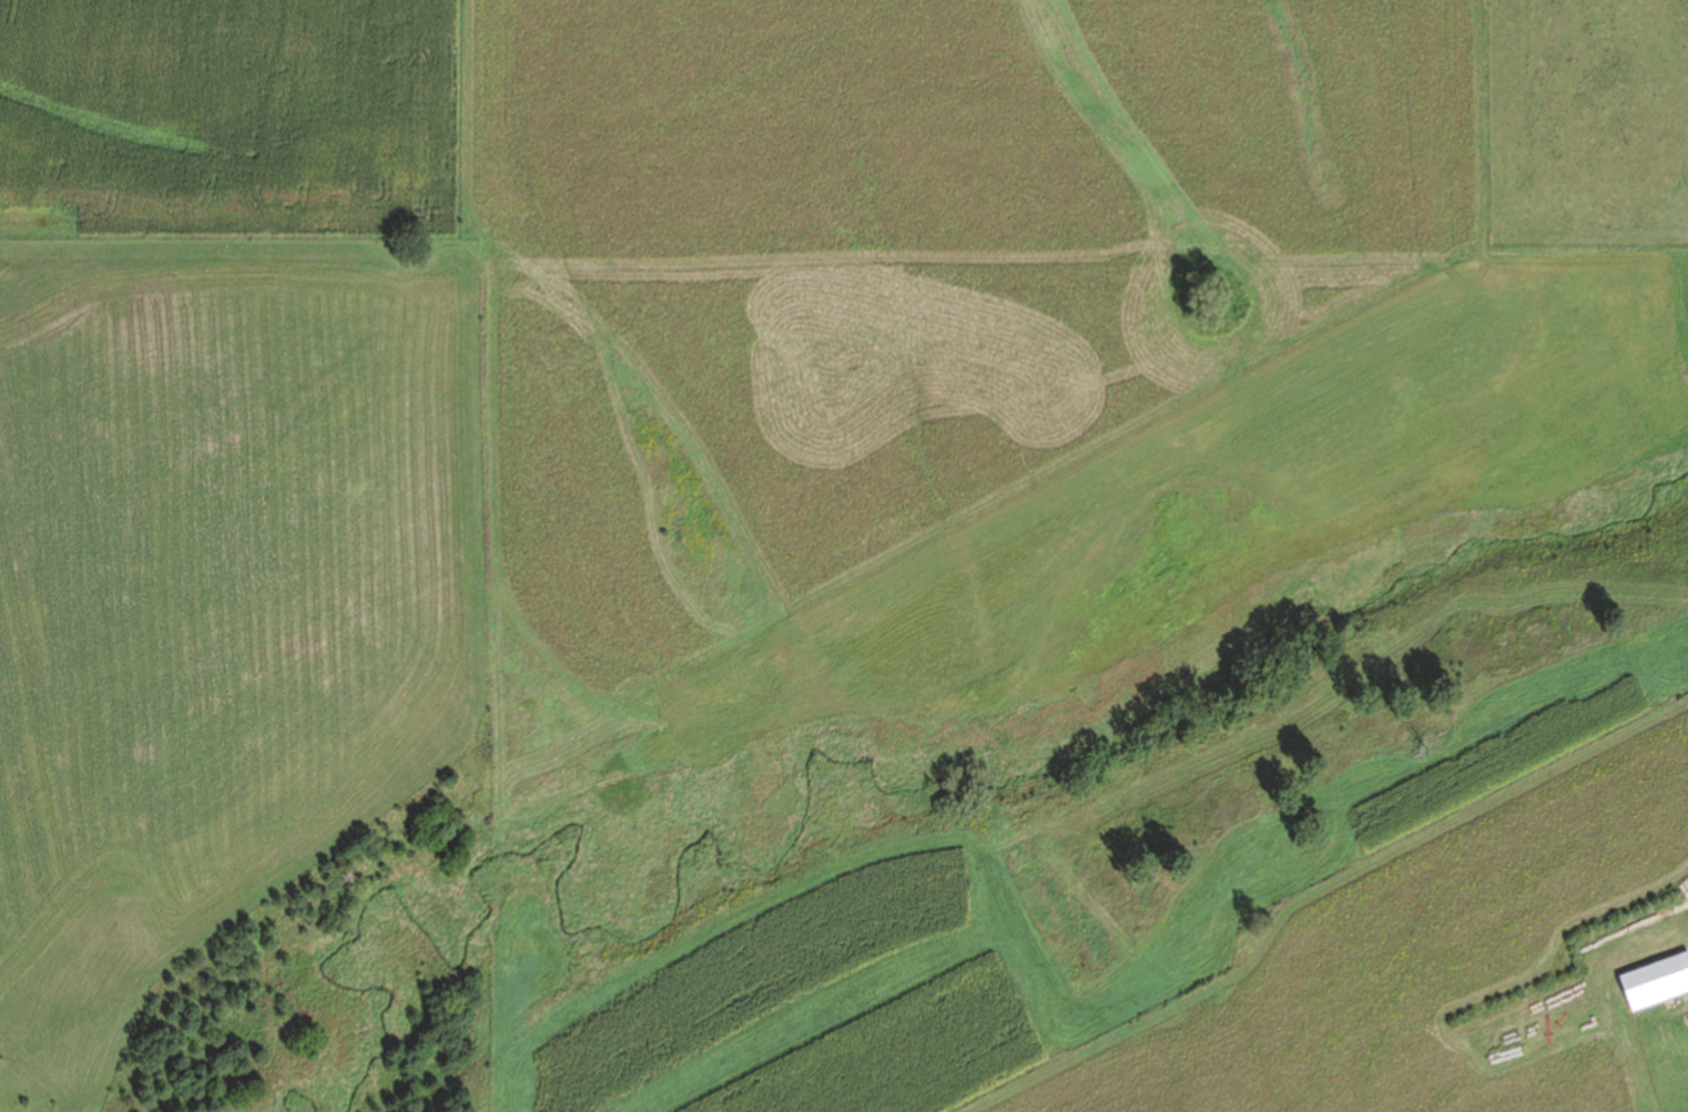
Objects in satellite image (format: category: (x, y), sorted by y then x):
building: (1657, 982)

